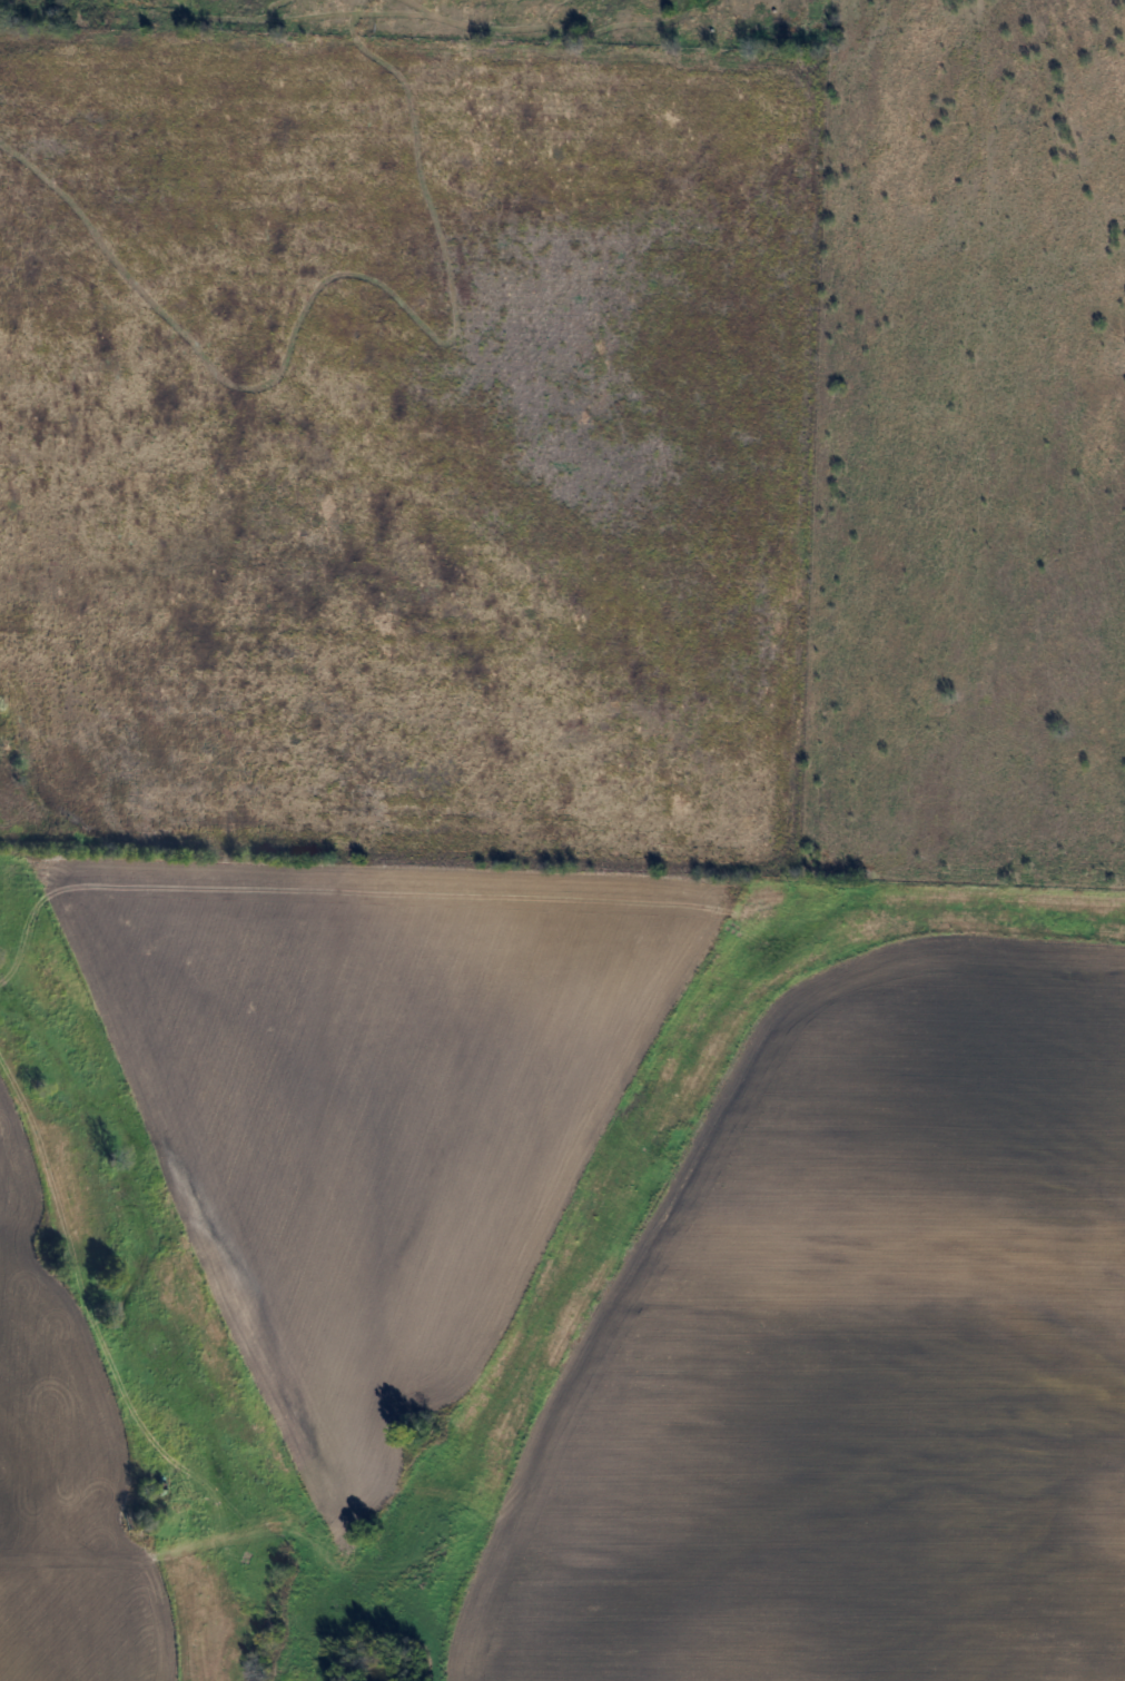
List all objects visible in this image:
building: (31, 1)

